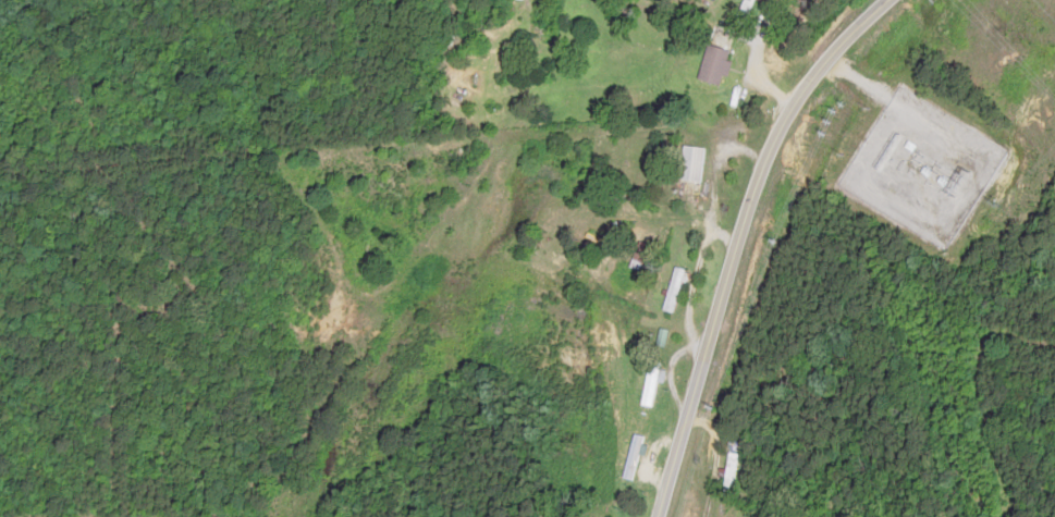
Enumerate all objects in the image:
building: (749, 8)
building: (713, 64)
building: (691, 163)
power substation: (921, 168)
power tower: (960, 181)
power tower: (999, 206)
road: (740, 237)
building: (674, 290)

